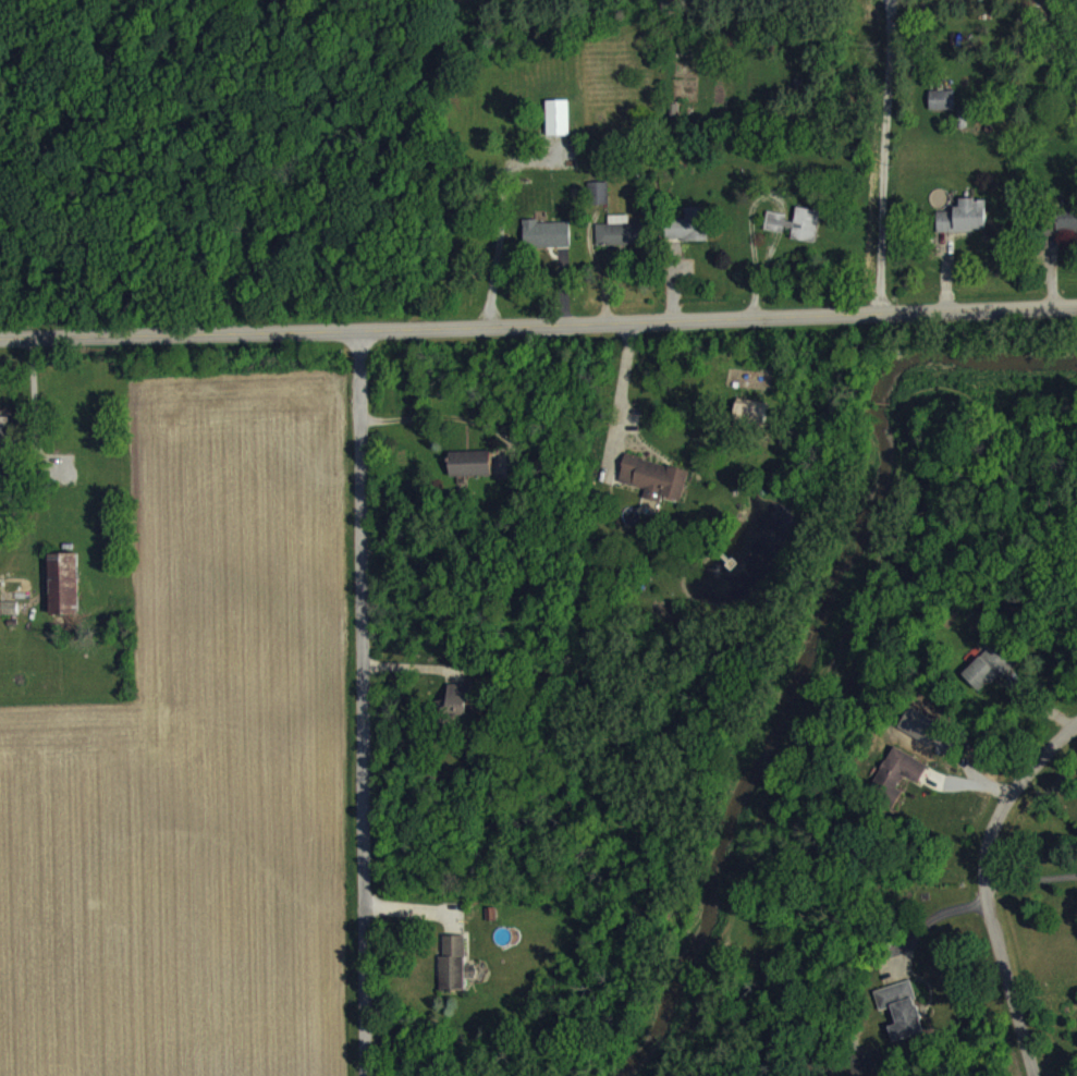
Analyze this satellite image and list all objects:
building: (941, 112)
building: (556, 130)
road: (884, 160)
building: (598, 205)
building: (963, 229)
building: (1065, 233)
building: (795, 236)
building: (688, 239)
building: (619, 244)
building: (546, 246)
road: (538, 332)
road: (619, 396)
road: (444, 414)
building: (750, 425)
building: (5, 445)
building: (470, 476)
building: (654, 491)
building: (63, 596)
building: (986, 680)
road: (369, 707)
building: (456, 714)
building: (897, 785)
road: (984, 885)
road: (1031, 893)
building: (453, 976)
building: (901, 1023)

